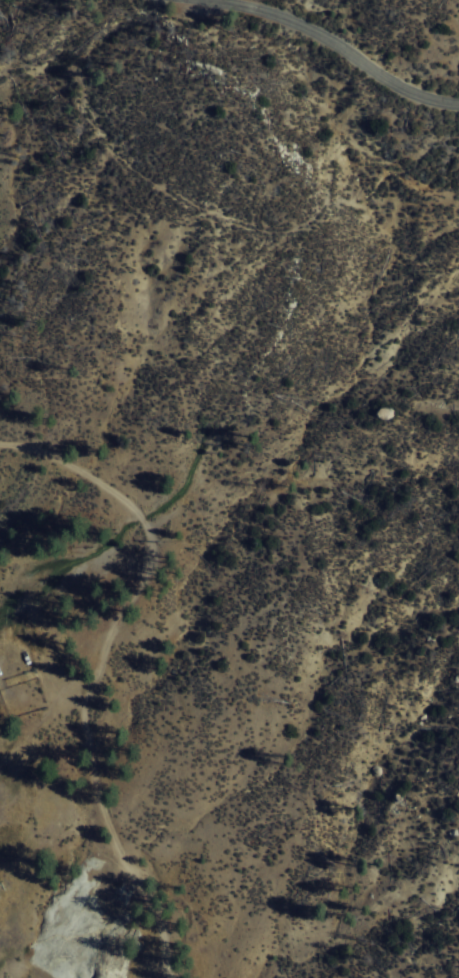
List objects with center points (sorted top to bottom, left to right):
road: (341, 48)
road: (107, 669)

